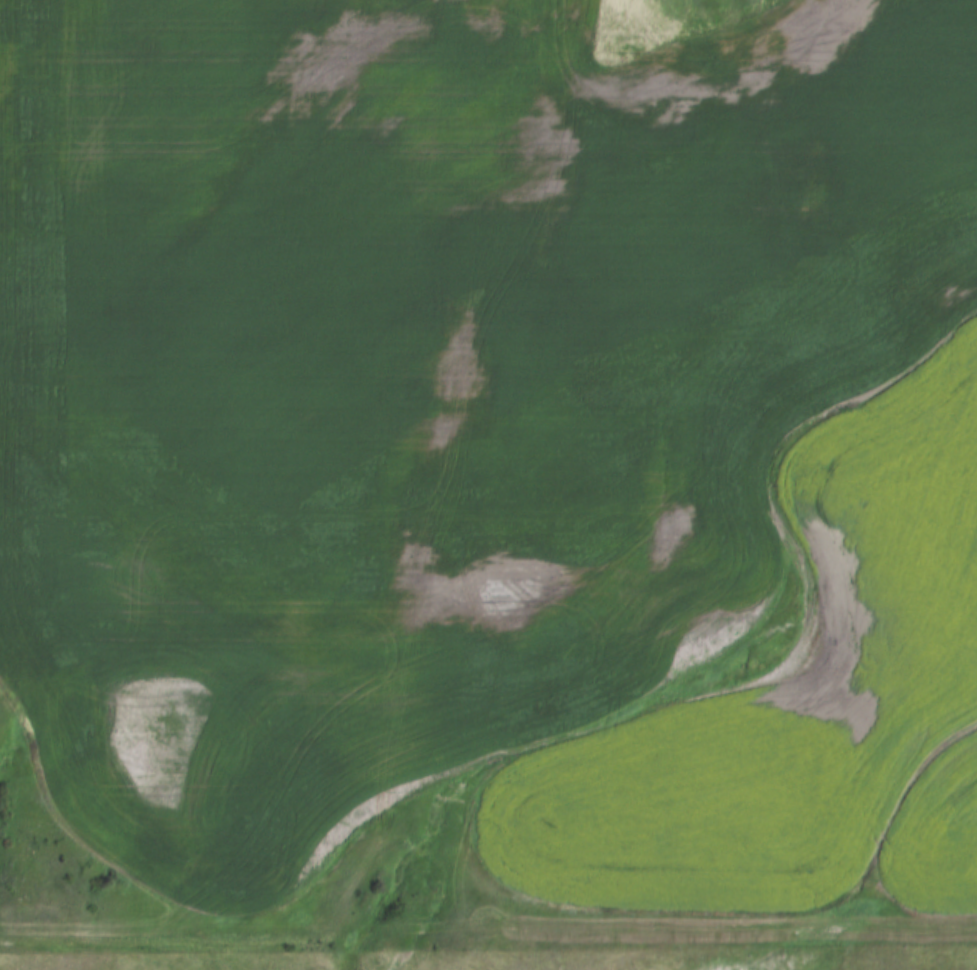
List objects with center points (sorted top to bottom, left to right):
road: (488, 930)

